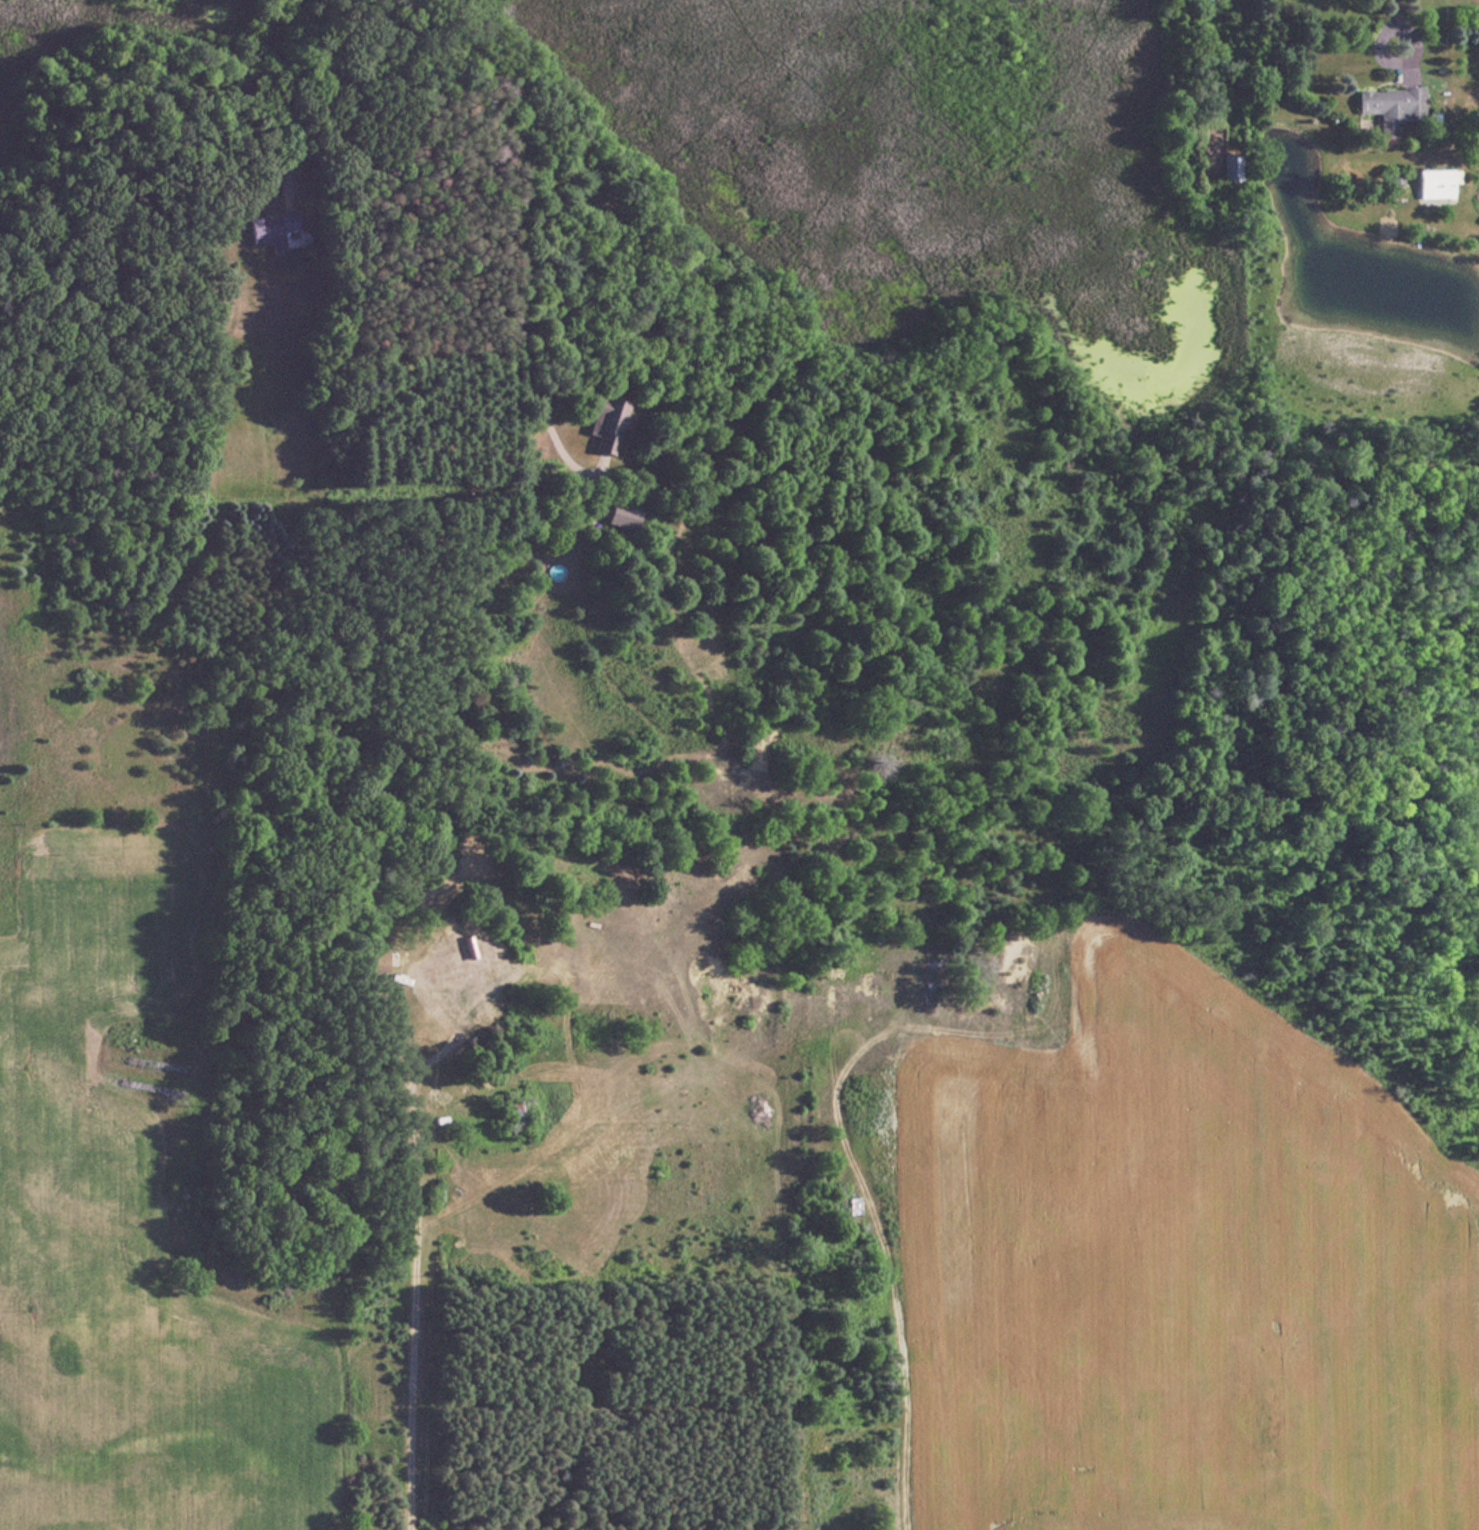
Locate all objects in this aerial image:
road: (1394, 10)
road: (1375, 33)
road: (277, 98)
building: (1215, 99)
building: (1389, 104)
building: (1229, 167)
building: (1433, 178)
building: (270, 228)
building: (605, 423)
building: (621, 516)
building: (375, 961)
building: (450, 994)
building: (532, 1278)

